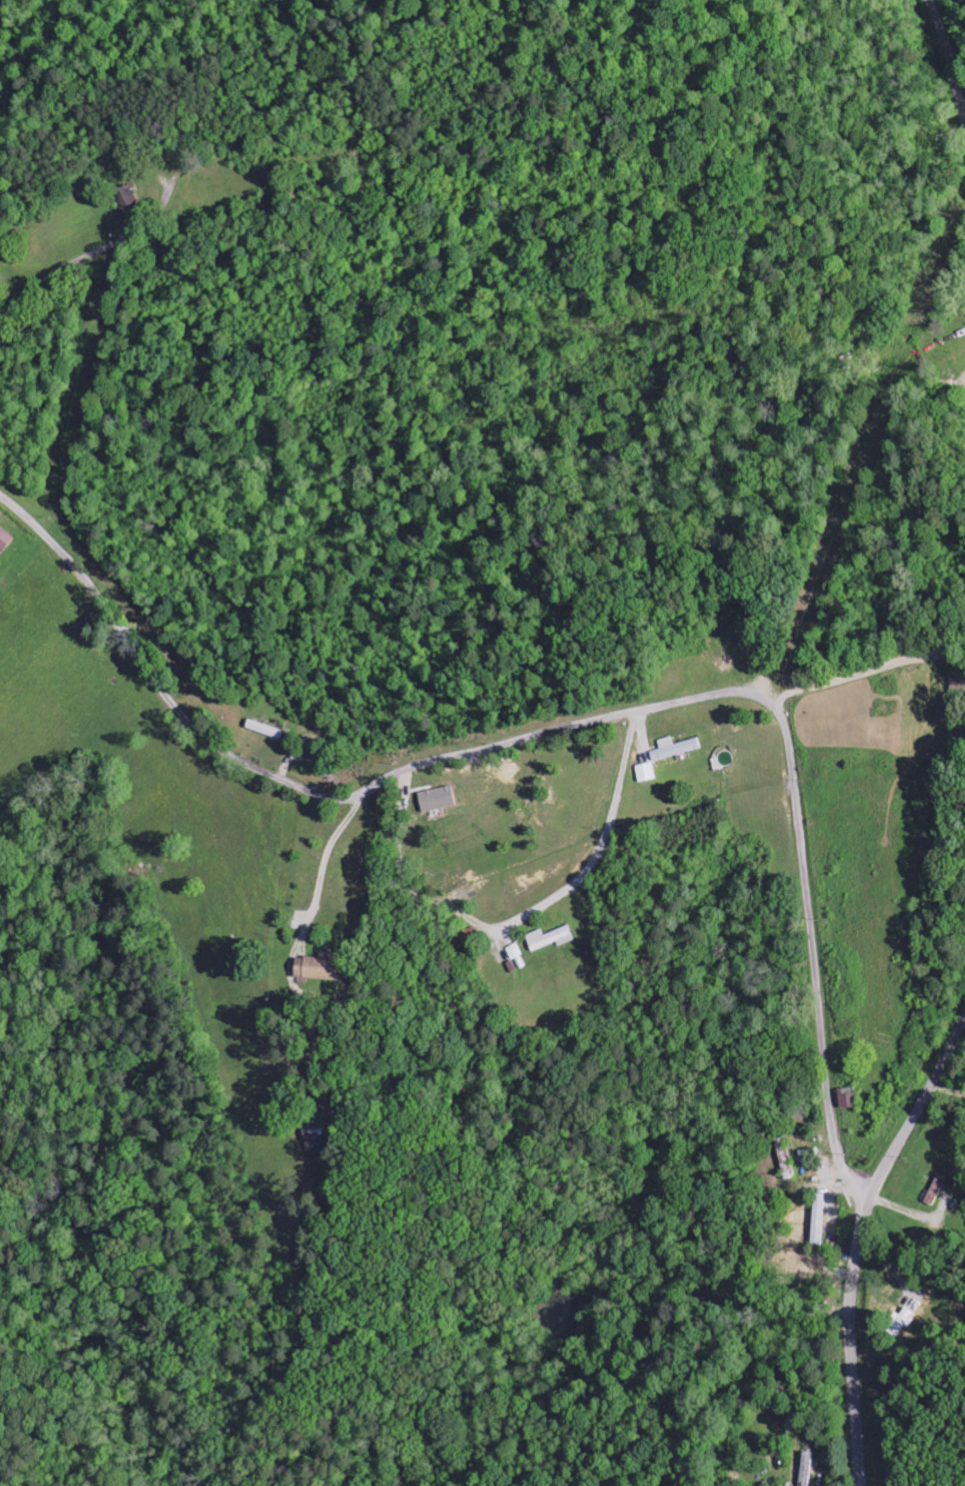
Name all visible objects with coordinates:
road: (944, 58)
building: (126, 197)
road: (89, 255)
building: (5, 542)
road: (574, 726)
building: (266, 731)
building: (675, 750)
building: (646, 774)
building: (439, 801)
building: (551, 940)
building: (517, 960)
building: (320, 969)
building: (849, 1100)
building: (316, 1138)
building: (786, 1161)
building: (936, 1192)
road: (862, 1243)
building: (807, 1469)

